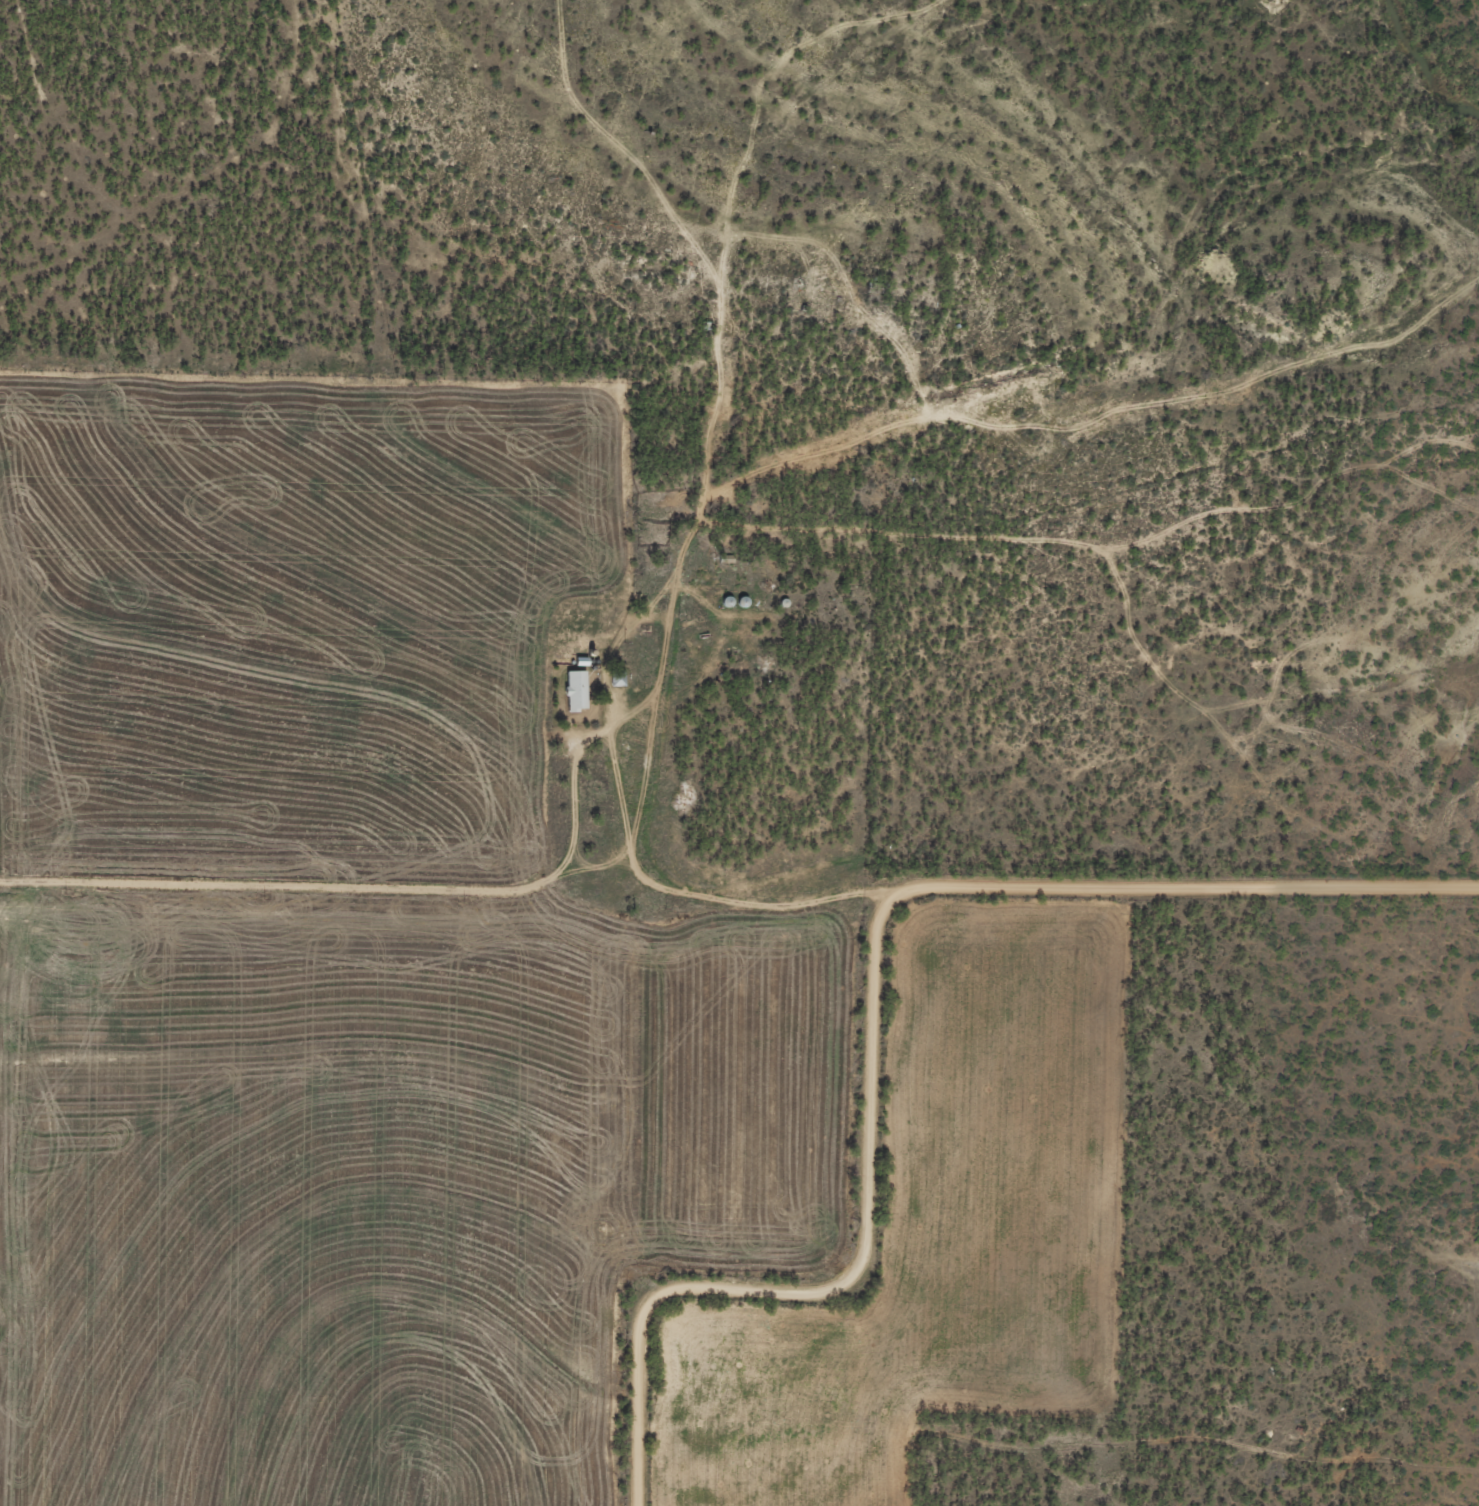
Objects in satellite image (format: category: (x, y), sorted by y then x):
road: (917, 427)
building: (579, 690)
road: (490, 847)
road: (1199, 886)
road: (818, 1236)

